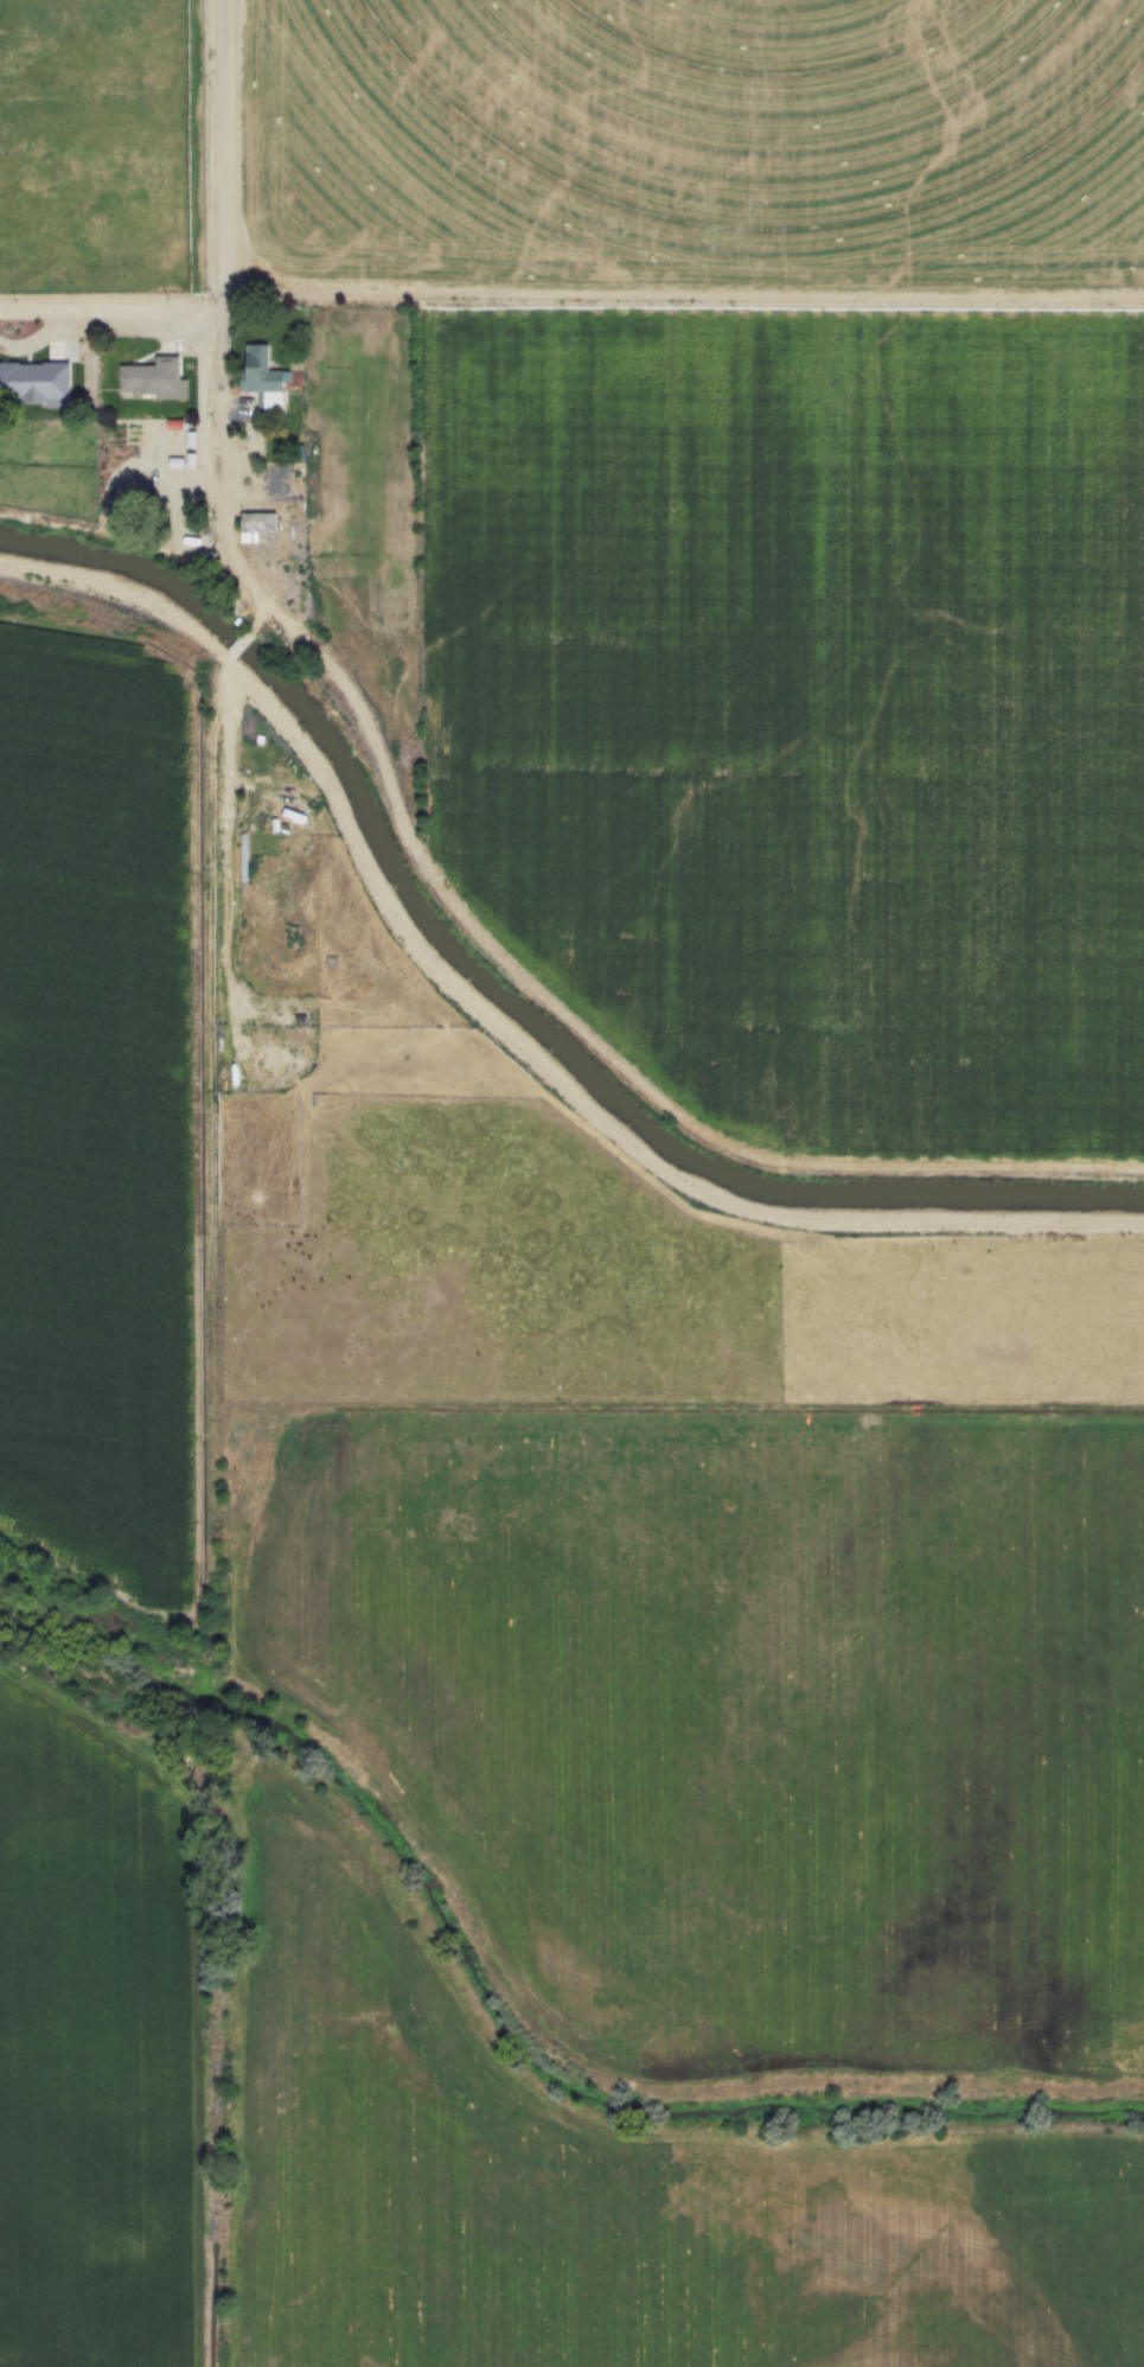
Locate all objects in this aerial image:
road: (223, 153)
road: (109, 310)
building: (149, 375)
building: (262, 377)
building: (33, 379)
road: (237, 449)
building: (255, 525)
road: (218, 793)
road: (501, 1023)

